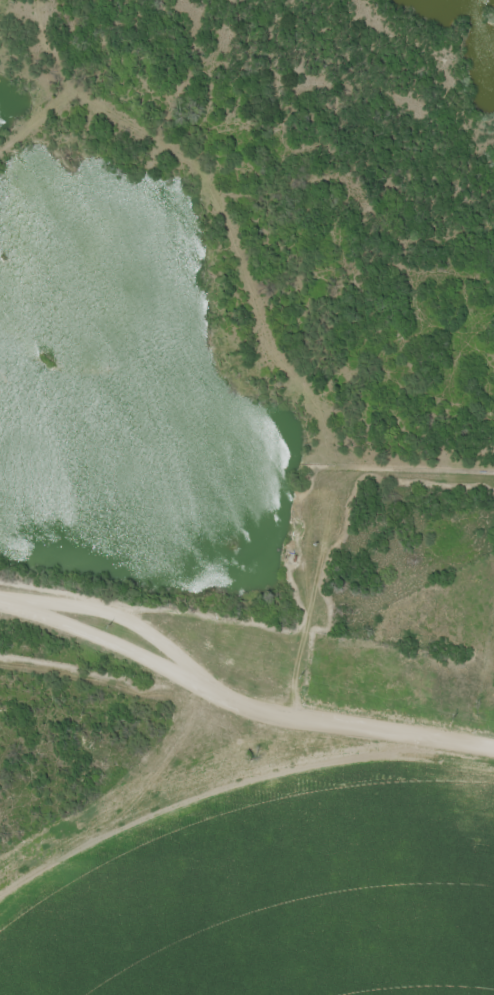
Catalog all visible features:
road: (247, 609)
railway: (247, 653)

